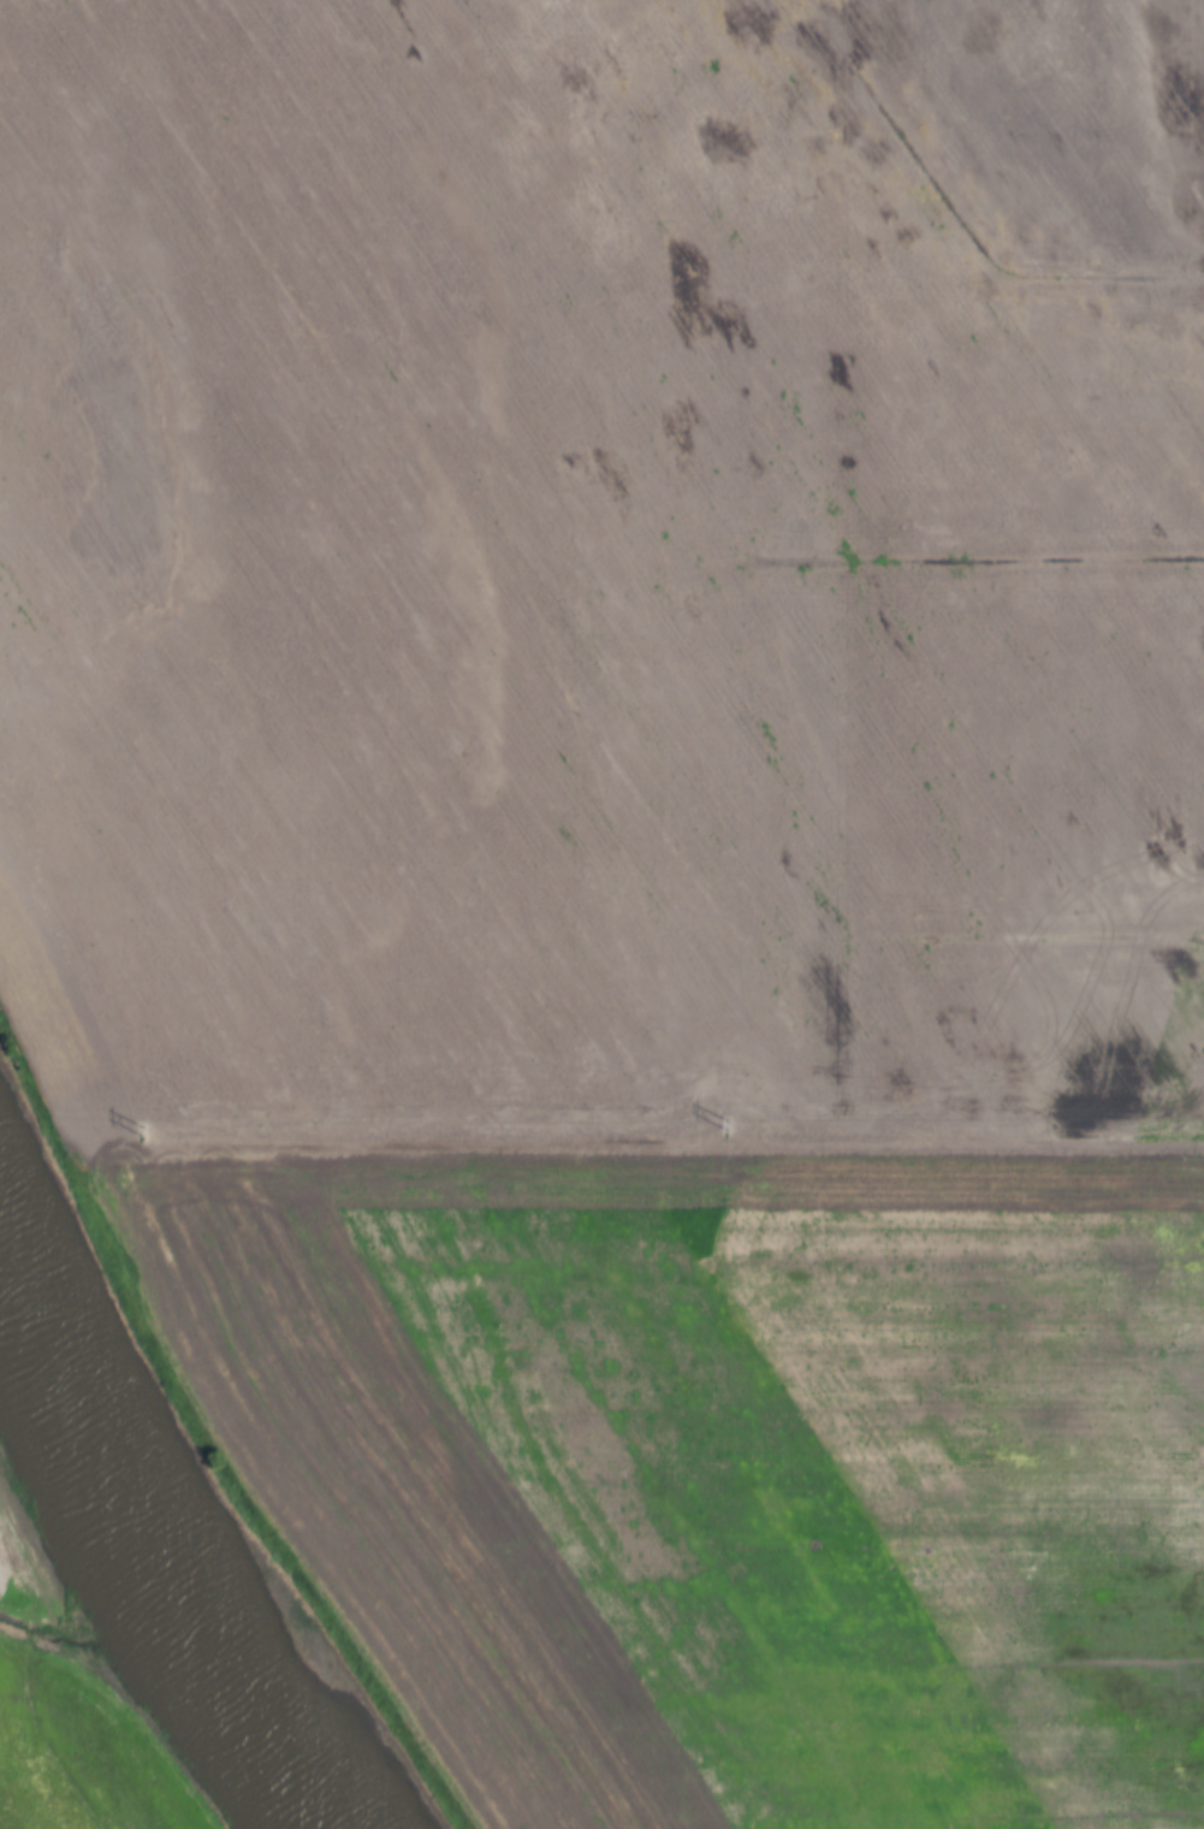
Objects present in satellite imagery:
river: (161, 1528)
road: (38, 1772)

